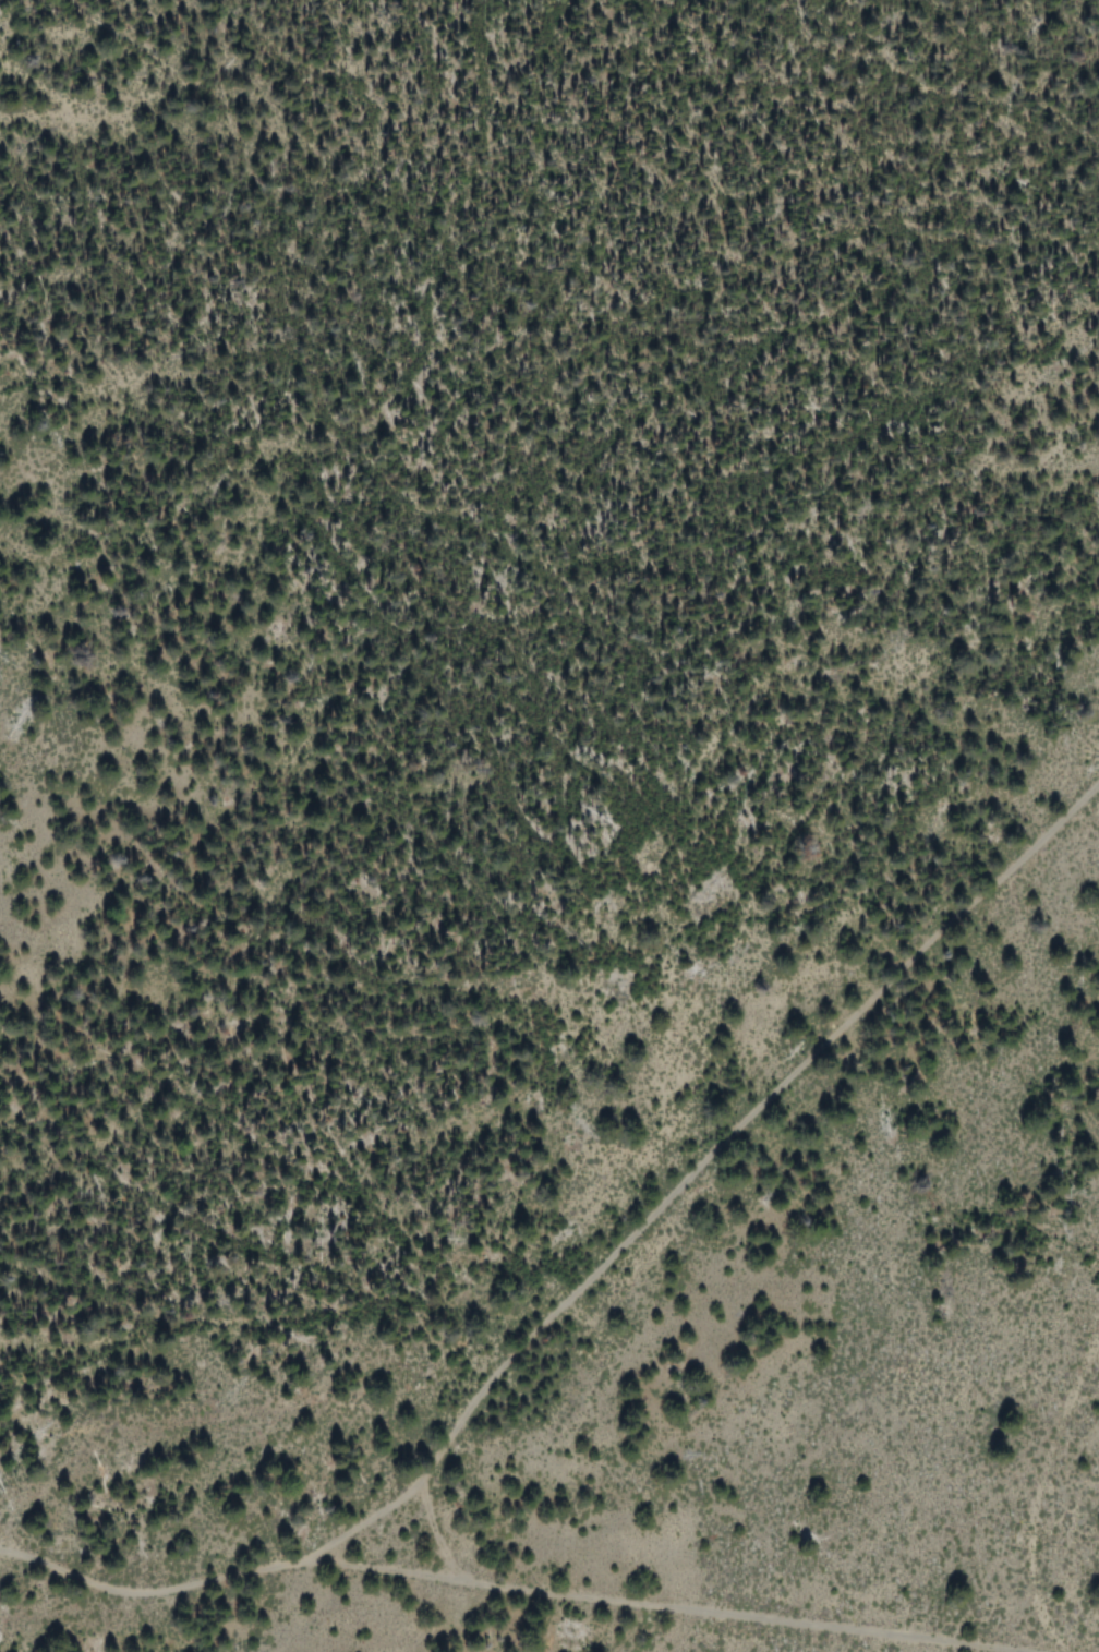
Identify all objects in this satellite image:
road: (494, 1585)

